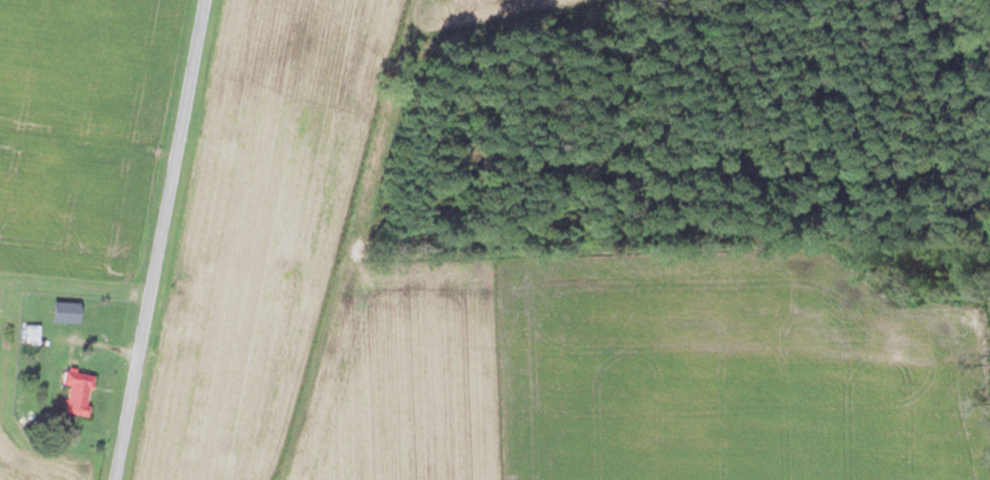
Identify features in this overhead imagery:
road: (164, 239)
building: (53, 310)
building: (31, 336)
building: (76, 393)

